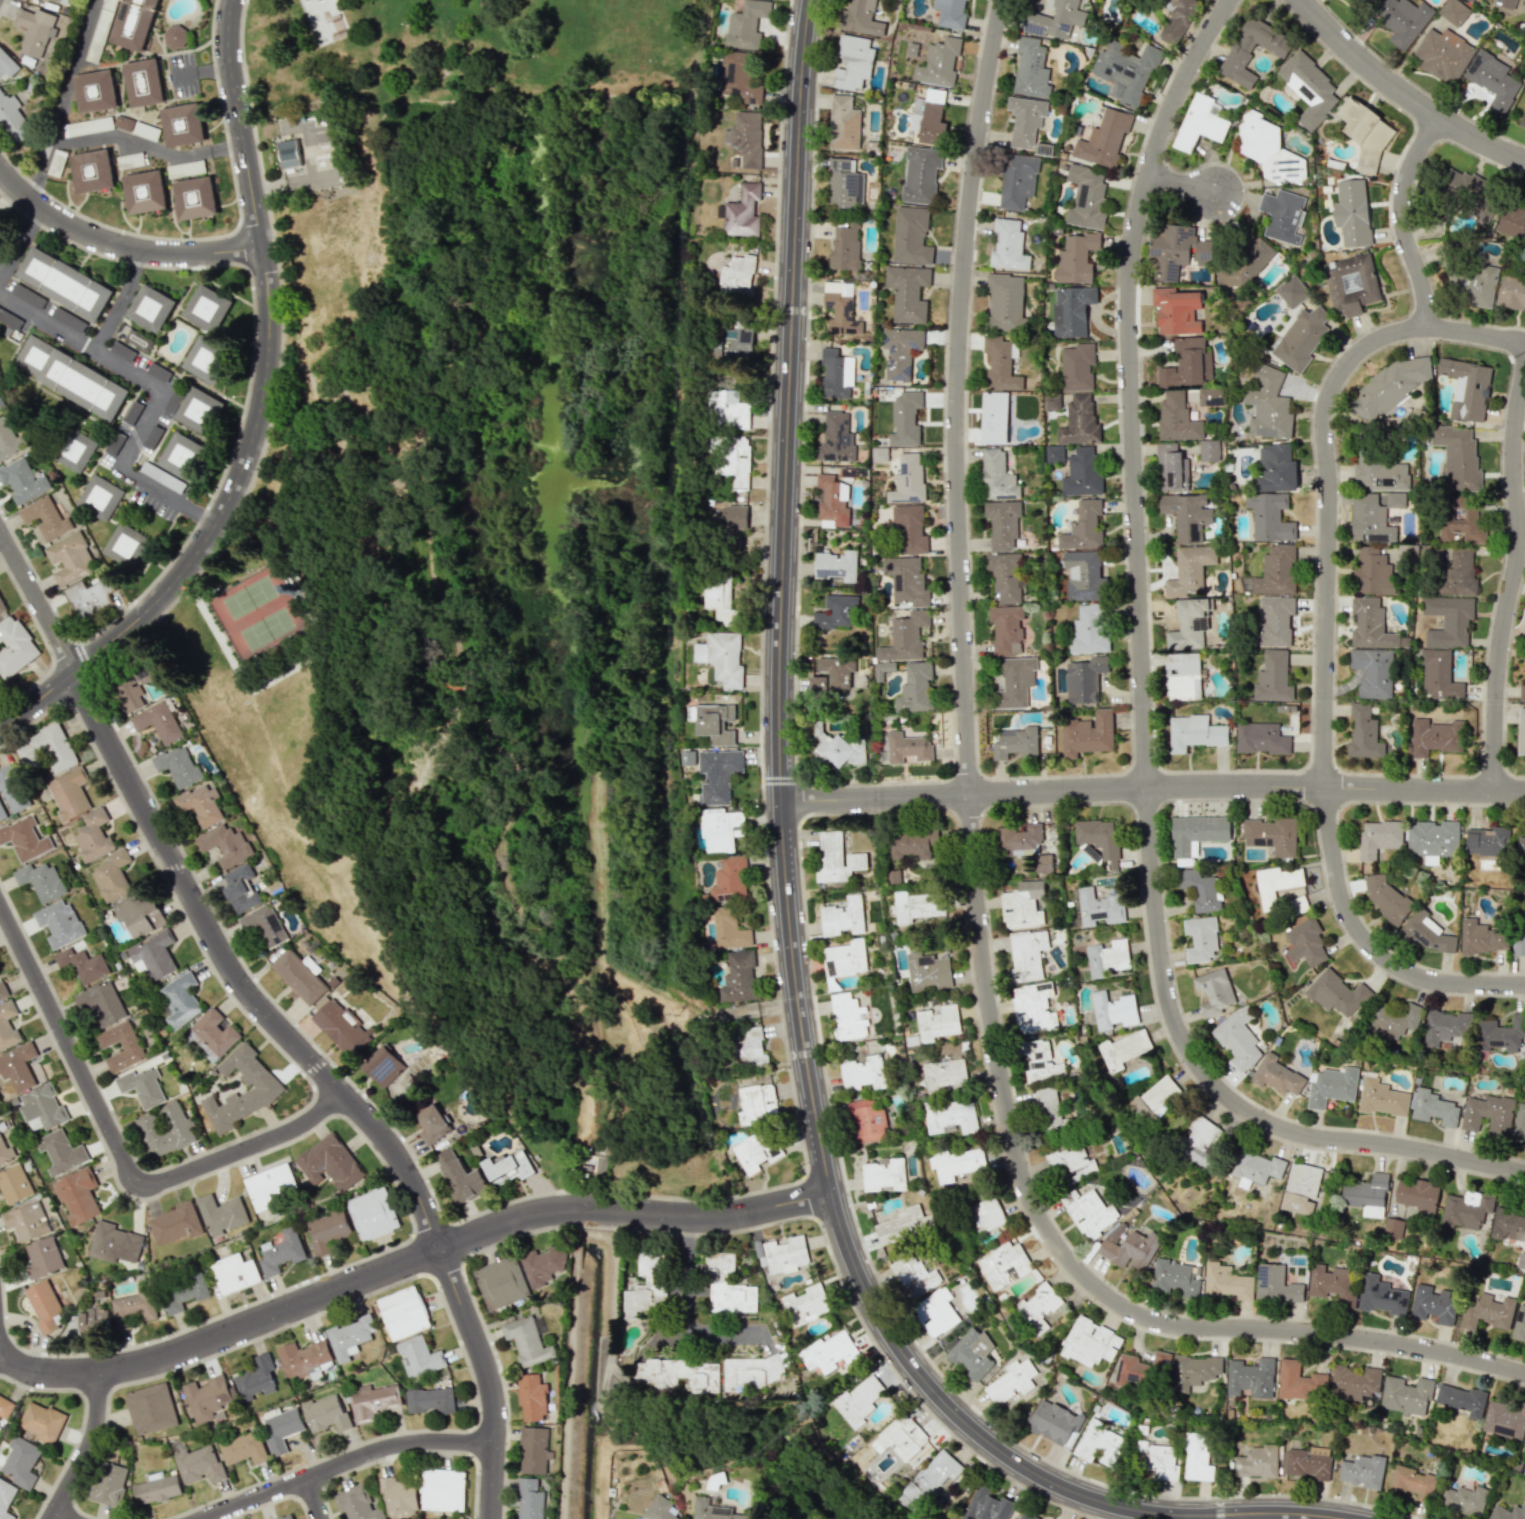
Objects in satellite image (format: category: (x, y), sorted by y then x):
building: (968, 0)
building: (1357, 1)
building: (61, 2)
building: (1507, 3)
building: (1455, 12)
building: (950, 13)
building: (860, 18)
building: (1177, 19)
building: (1055, 20)
building: (1403, 20)
building: (133, 23)
building: (747, 24)
building: (35, 29)
building: (99, 30)
building: (174, 36)
building: (1253, 50)
building: (1443, 55)
building: (854, 62)
building: (939, 62)
building: (7, 65)
building: (1031, 68)
building: (1126, 71)
building: (1494, 80)
building: (143, 82)
building: (742, 84)
building: (1309, 88)
building: (94, 91)
road: (1404, 94)
road: (62, 100)
building: (929, 116)
building: (1025, 120)
building: (13, 121)
building: (1523, 121)
building: (122, 122)
building: (844, 123)
building: (1200, 123)
building: (182, 125)
building: (87, 126)
building: (145, 130)
building: (1366, 133)
building: (747, 138)
building: (1104, 138)
road: (147, 146)
building: (1270, 149)
building: (289, 153)
building: (130, 160)
building: (56, 162)
building: (185, 169)
building: (92, 170)
building: (921, 174)
building: (1018, 180)
building: (844, 184)
road: (1182, 184)
building: (144, 191)
building: (1470, 192)
building: (1086, 196)
building: (195, 197)
building: (742, 212)
building: (1352, 212)
building: (1283, 215)
road: (1405, 221)
building: (1513, 221)
building: (911, 236)
road: (16, 238)
building: (1008, 245)
building: (846, 247)
road: (121, 248)
building: (1170, 249)
building: (1076, 258)
building: (1253, 258)
building: (739, 276)
building: (64, 283)
building: (1352, 284)
building: (1473, 285)
building: (1292, 291)
building: (908, 292)
building: (1512, 292)
building: (28, 295)
road: (120, 301)
building: (1005, 301)
building: (152, 308)
building: (209, 308)
building: (842, 308)
building: (1071, 310)
building: (1177, 311)
building: (69, 319)
road: (1477, 333)
building: (1302, 338)
building: (138, 339)
building: (734, 343)
building: (122, 351)
building: (901, 351)
building: (209, 360)
building: (1001, 363)
building: (1188, 363)
building: (1077, 367)
road: (269, 369)
building: (159, 372)
building: (837, 374)
building: (71, 377)
building: (1390, 387)
building: (1468, 388)
building: (1211, 397)
road: (149, 398)
building: (1269, 405)
building: (197, 408)
building: (729, 409)
building: (906, 418)
building: (995, 418)
building: (1177, 418)
building: (1080, 421)
building: (10, 437)
building: (837, 438)
building: (1209, 450)
building: (74, 451)
building: (178, 453)
building: (880, 454)
building: (1054, 454)
building: (1457, 458)
building: (738, 460)
building: (1171, 468)
building: (1277, 468)
building: (998, 476)
building: (23, 480)
building: (909, 480)
building: (99, 497)
building: (1395, 500)
building: (834, 501)
building: (1187, 515)
building: (45, 517)
building: (1270, 517)
building: (731, 519)
building: (1370, 520)
building: (1003, 523)
building: (1084, 527)
building: (911, 530)
park: (473, 544)
building: (126, 545)
building: (70, 558)
building: (837, 565)
building: (1190, 570)
building: (1373, 571)
building: (1274, 572)
building: (1459, 573)
building: (1083, 574)
building: (1006, 576)
building: (907, 580)
road: (1514, 587)
building: (90, 597)
building: (721, 599)
building: (2, 606)
building: (1449, 620)
building: (1275, 621)
building: (1189, 623)
building: (1371, 624)
building: (1007, 629)
building: (1090, 629)
building: (906, 637)
building: (14, 647)
building: (723, 657)
building: (1373, 671)
building: (834, 674)
building: (1182, 676)
building: (1439, 676)
building: (1273, 678)
building: (1085, 679)
building: (1015, 683)
building: (0, 685)
building: (916, 688)
building: (1522, 691)
road: (1323, 692)
building: (128, 695)
road: (1147, 701)
road: (37, 704)
building: (158, 721)
building: (718, 726)
building: (1194, 732)
building: (1364, 733)
building: (1521, 733)
building: (1088, 734)
building: (1434, 736)
building: (1260, 738)
building: (1016, 743)
building: (908, 747)
building: (840, 748)
building: (47, 749)
building: (177, 766)
building: (719, 774)
building: (13, 789)
road: (1153, 790)
building: (69, 793)
building: (200, 804)
building: (2, 812)
building: (722, 829)
building: (1197, 833)
building: (93, 835)
building: (1272, 835)
building: (1019, 837)
building: (25, 838)
building: (1379, 838)
building: (1432, 840)
building: (1488, 842)
building: (1522, 843)
building: (914, 844)
building: (224, 845)
building: (112, 875)
road: (977, 876)
building: (730, 879)
building: (1106, 880)
building: (41, 881)
building: (1276, 884)
building: (240, 888)
building: (1200, 889)
building: (1386, 896)
building: (1023, 905)
building: (917, 906)
building: (1098, 907)
building: (140, 914)
building: (844, 917)
building: (59, 922)
building: (263, 925)
building: (730, 929)
building: (1427, 932)
building: (1484, 936)
road: (791, 937)
building: (1201, 938)
building: (1519, 941)
building: (1306, 943)
building: (153, 955)
building: (1027, 955)
building: (845, 958)
building: (1108, 958)
building: (83, 964)
building: (928, 972)
building: (300, 976)
building: (739, 977)
building: (3, 990)
building: (1214, 991)
building: (1337, 993)
building: (179, 1000)
building: (101, 1003)
building: (1033, 1008)
building: (1113, 1010)
building: (848, 1017)
building: (1394, 1019)
road: (276, 1021)
building: (938, 1022)
building: (7, 1026)
building: (1446, 1027)
building: (341, 1028)
building: (215, 1032)
building: (1501, 1035)
building: (1238, 1038)
building: (130, 1044)
building: (748, 1047)
building: (1123, 1049)
building: (1042, 1061)
building: (18, 1066)
building: (382, 1066)
building: (863, 1073)
building: (945, 1074)
building: (1277, 1075)
building: (258, 1082)
building: (142, 1086)
building: (1332, 1086)
building: (1158, 1097)
building: (1382, 1098)
building: (757, 1103)
building: (42, 1107)
building: (1434, 1107)
building: (1489, 1114)
building: (951, 1116)
building: (867, 1120)
building: (1519, 1123)
building: (432, 1125)
building: (166, 1129)
building: (1198, 1142)
building: (7, 1148)
road: (115, 1148)
building: (755, 1151)
building: (60, 1152)
building: (330, 1163)
building: (956, 1163)
building: (1071, 1163)
building: (507, 1167)
building: (1256, 1168)
building: (884, 1174)
building: (459, 1176)
building: (14, 1183)
building: (271, 1186)
building: (1302, 1188)
building: (77, 1195)
building: (1366, 1195)
building: (1417, 1195)
building: (1465, 1210)
building: (1089, 1212)
building: (221, 1214)
building: (372, 1214)
building: (986, 1215)
building: (26, 1221)
building: (175, 1223)
building: (1508, 1224)
building: (903, 1225)
building: (1393, 1228)
building: (327, 1231)
building: (1117, 1232)
building: (114, 1243)
building: (1130, 1250)
building: (281, 1252)
building: (785, 1255)
building: (42, 1258)
building: (1521, 1261)
road: (406, 1264)
building: (543, 1265)
building: (1004, 1265)
building: (234, 1273)
building: (916, 1274)
building: (1176, 1277)
building: (502, 1282)
building: (1227, 1282)
building: (1334, 1284)
building: (646, 1285)
building: (1275, 1285)
building: (184, 1293)
building: (1381, 1295)
building: (807, 1302)
building: (1434, 1304)
building: (44, 1305)
building: (1038, 1307)
building: (133, 1308)
building: (403, 1312)
building: (936, 1312)
building: (1487, 1312)
road: (686, 1314)
building: (93, 1320)
building: (1519, 1324)
building: (350, 1337)
building: (526, 1341)
building: (1090, 1342)
building: (829, 1352)
building: (968, 1354)
road: (4, 1355)
building: (304, 1357)
building: (419, 1357)
building: (1140, 1368)
building: (1195, 1371)
building: (754, 1372)
building: (680, 1374)
building: (256, 1378)
building: (1251, 1378)
building: (1011, 1381)
building: (1300, 1381)
building: (1355, 1382)
building: (1406, 1395)
building: (209, 1398)
building: (532, 1398)
building: (1462, 1399)
building: (373, 1400)
building: (431, 1400)
building: (859, 1400)
building: (5, 1407)
building: (151, 1408)
building: (326, 1413)
building: (1505, 1419)
building: (41, 1421)
building: (1054, 1423)
building: (282, 1429)
building: (900, 1438)
building: (1101, 1444)
building: (244, 1448)
road: (88, 1449)
building: (534, 1449)
building: (1197, 1457)
building: (1159, 1460)
building: (21, 1462)
building: (1257, 1462)
road: (345, 1463)
building: (199, 1464)
building: (1308, 1464)
building: (1362, 1471)
building: (930, 1480)
building: (1412, 1482)
building: (109, 1483)
building: (156, 1488)
building: (441, 1489)
building: (399, 1496)
building: (5, 1498)
road: (316, 1498)
building: (530, 1499)
building: (1464, 1500)
building: (357, 1504)
building: (989, 1506)
building: (661, 1509)
building: (712, 1509)
building: (1506, 1512)
road: (63, 1515)
building: (1026, 1516)
building: (287, 1517)

